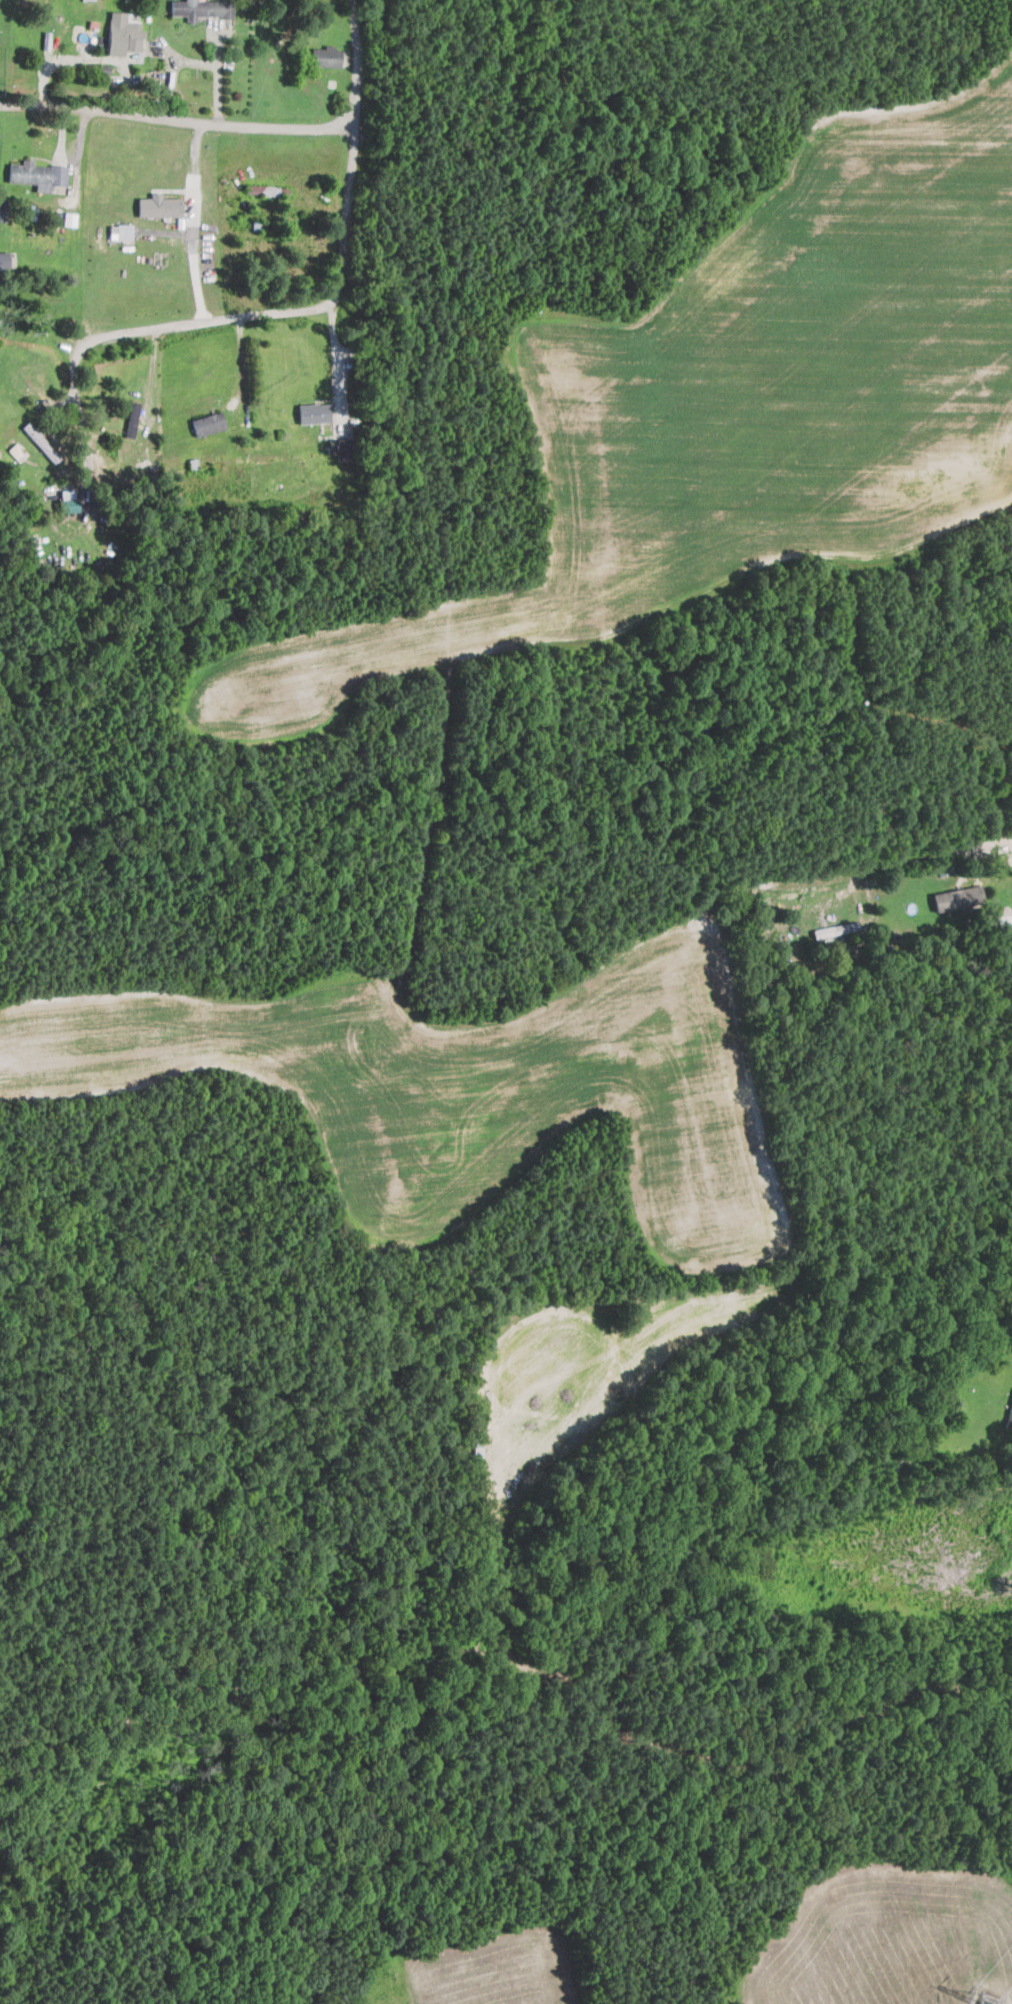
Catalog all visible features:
building: (85, 0)
building: (202, 8)
building: (123, 34)
building: (326, 56)
road: (176, 119)
building: (37, 174)
building: (159, 205)
building: (3, 209)
building: (5, 259)
road: (337, 271)
road: (339, 362)
road: (72, 374)
building: (313, 412)
building: (132, 418)
building: (209, 423)
building: (346, 449)
building: (17, 452)
building: (68, 500)
road: (947, 854)
building: (958, 897)
building: (833, 932)
building: (1010, 1409)

